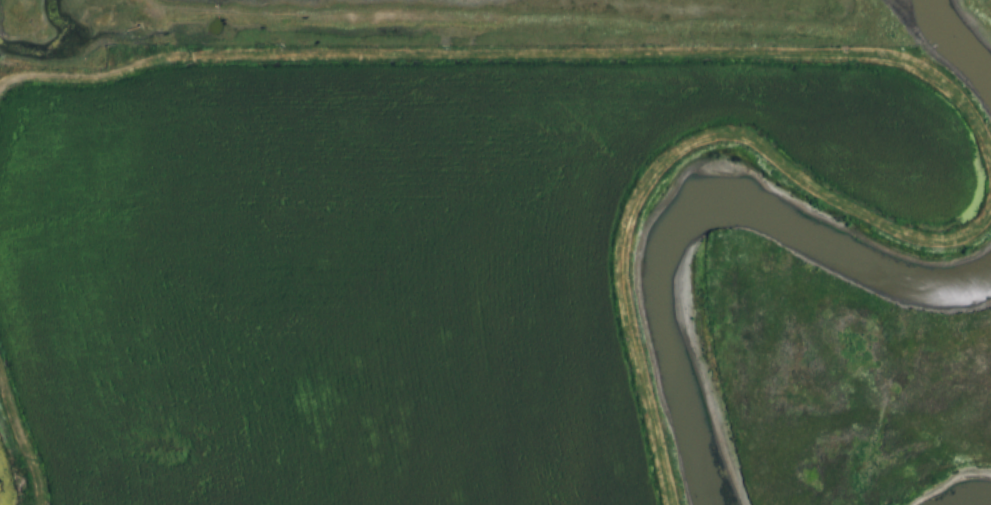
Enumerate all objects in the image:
river: (963, 30)
river: (705, 212)

